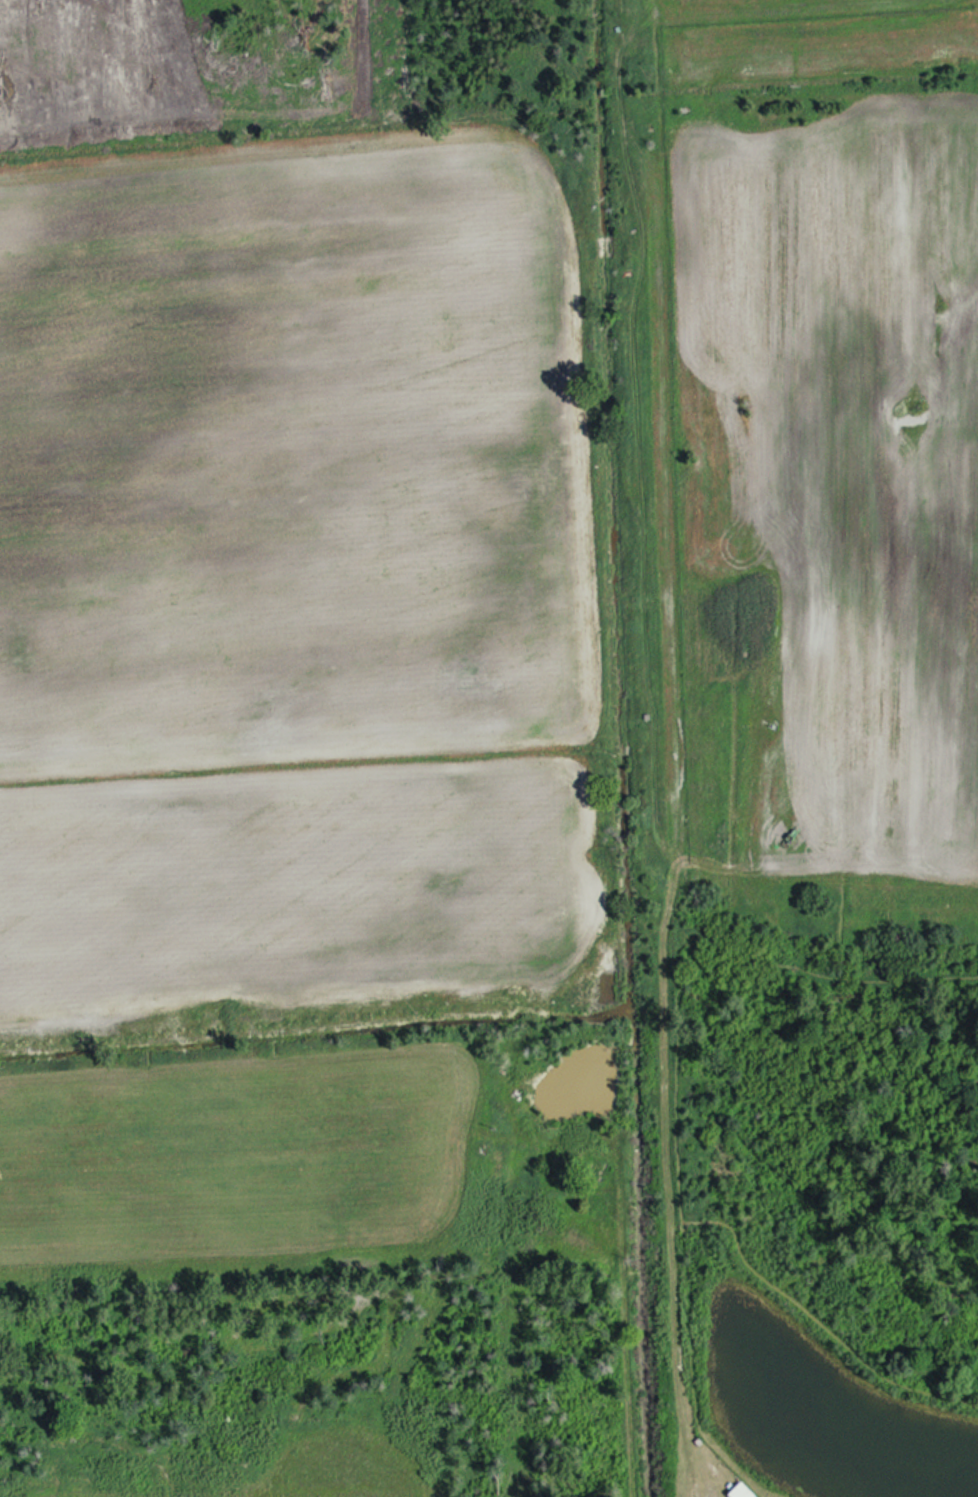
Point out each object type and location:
road: (634, 342)
building: (743, 1492)

